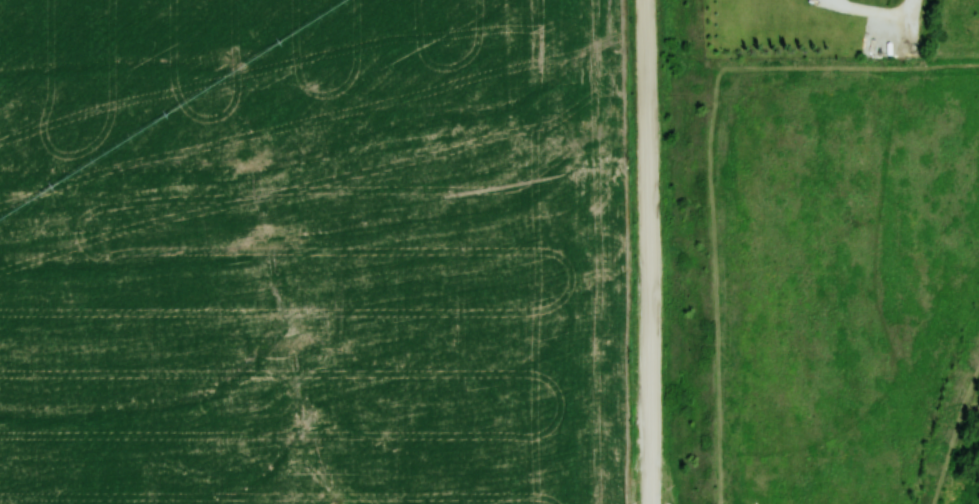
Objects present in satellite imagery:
road: (912, 28)
road: (651, 252)

